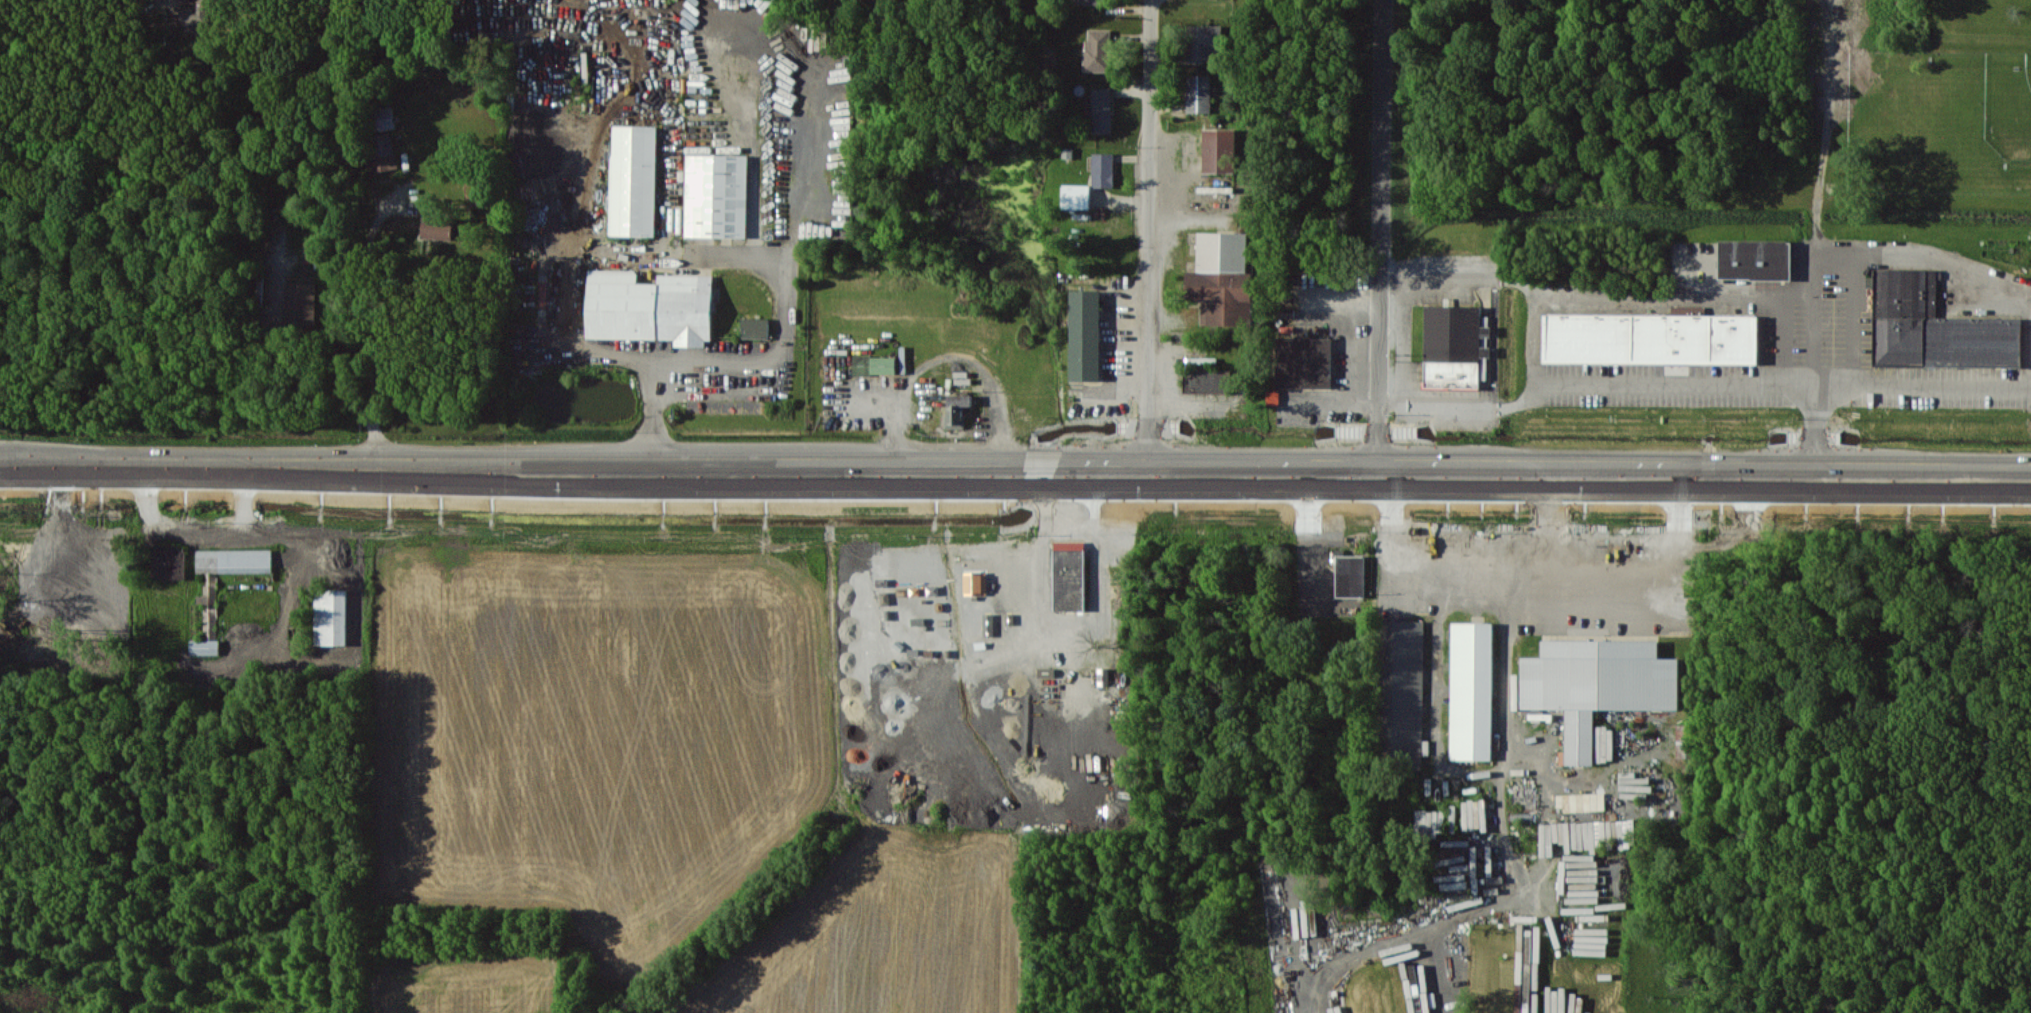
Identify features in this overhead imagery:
building: (877, 2)
building: (1090, 2)
road: (946, 4)
building: (197, 15)
building: (1204, 41)
building: (1098, 50)
building: (1198, 93)
road: (675, 107)
building: (1102, 110)
building: (385, 118)
building: (1219, 150)
building: (380, 152)
road: (812, 164)
building: (1103, 170)
building: (633, 180)
road: (670, 181)
building: (716, 195)
building: (1076, 196)
building: (437, 228)
road: (1148, 234)
road: (1383, 234)
road: (648, 255)
building: (1755, 259)
building: (1222, 278)
road: (1723, 294)
building: (301, 303)
building: (650, 307)
road: (1855, 320)
building: (755, 327)
building: (1935, 327)
road: (370, 332)
building: (1085, 335)
building: (1652, 338)
road: (1539, 339)
building: (1455, 347)
building: (1304, 362)
building: (874, 364)
road: (980, 366)
road: (288, 367)
building: (1206, 380)
road: (1688, 384)
road: (738, 395)
building: (1273, 396)
road: (895, 402)
road: (1332, 403)
building: (957, 409)
road: (1813, 427)
road: (149, 456)
road: (1165, 468)
road: (149, 475)
road: (1306, 517)
road: (1654, 552)
road: (1479, 557)
building: (234, 560)
building: (168, 561)
building: (1069, 575)
building: (1350, 576)
building: (974, 583)
building: (331, 617)
building: (208, 619)
road: (1439, 646)
building: (1597, 684)
building: (1471, 691)
building: (1401, 693)
road: (1506, 709)
building: (1684, 741)
building: (1581, 802)

